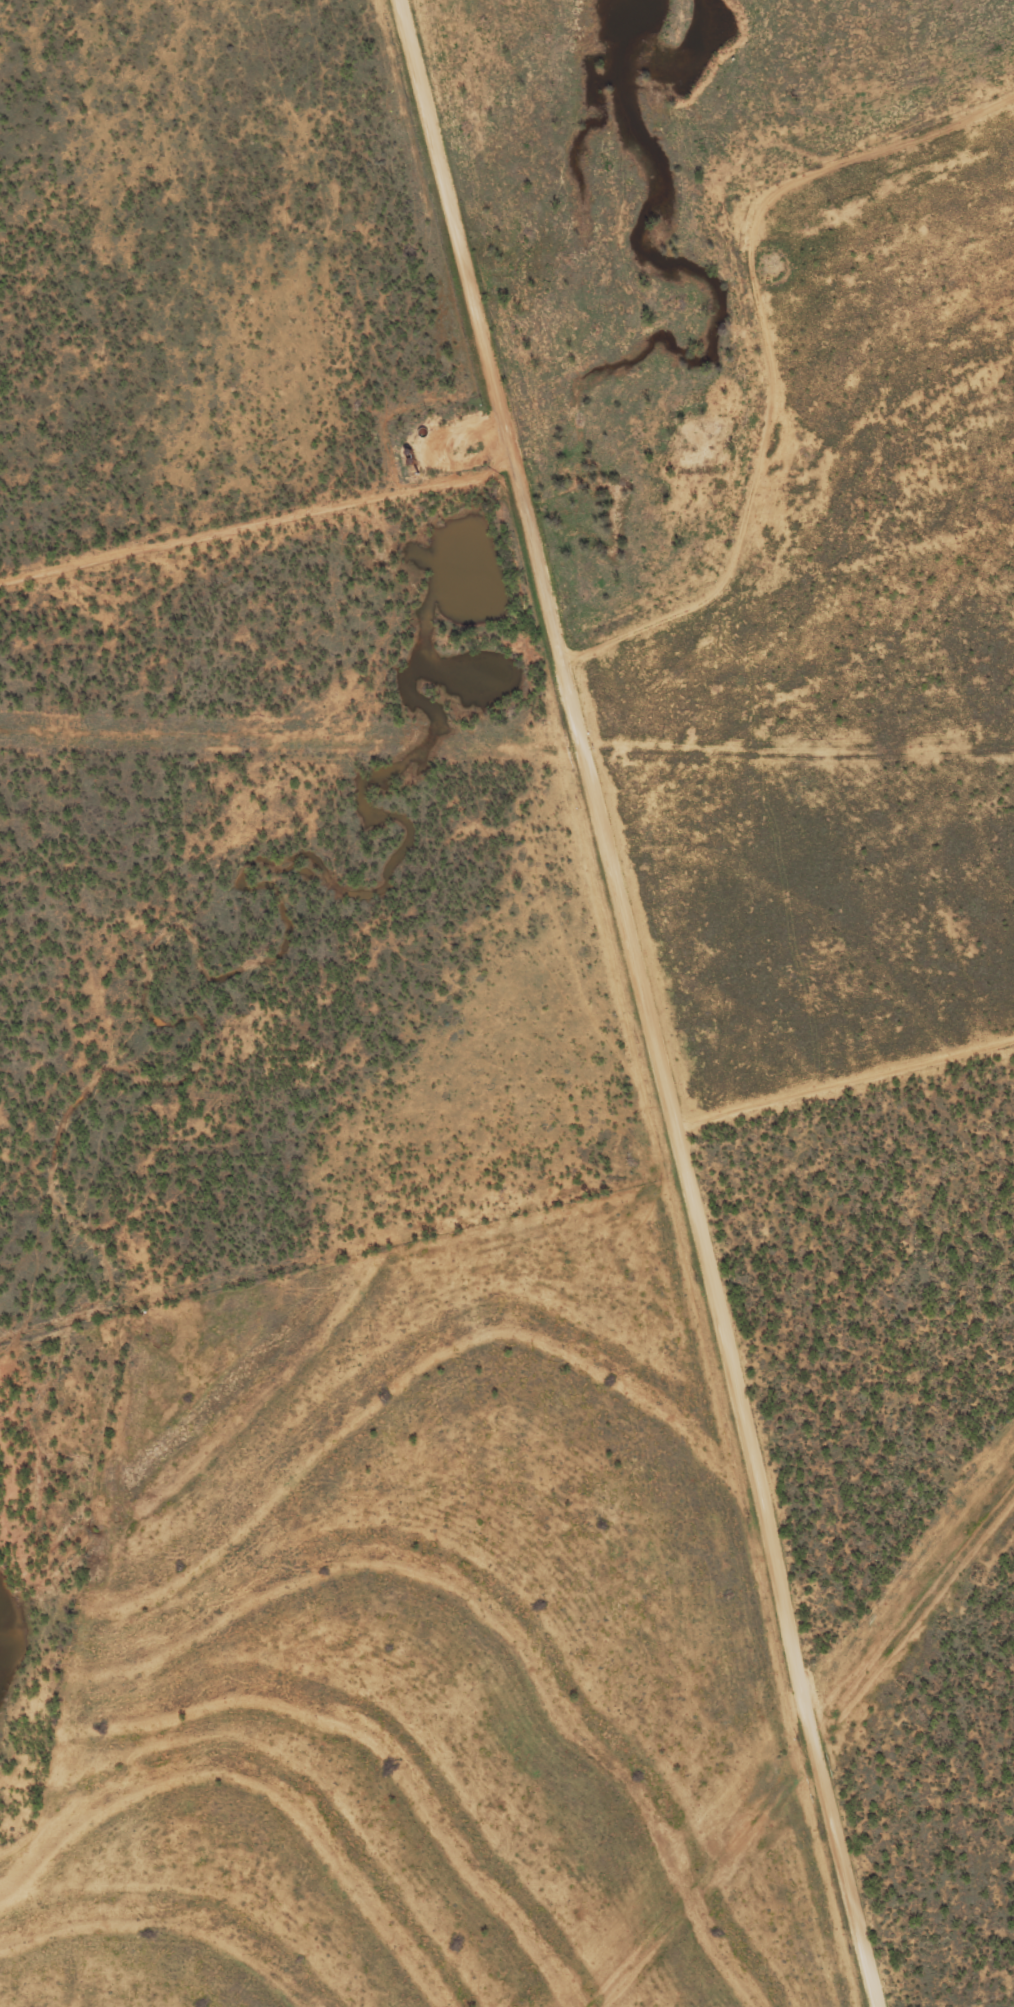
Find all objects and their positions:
road: (256, 545)
road: (640, 1013)

